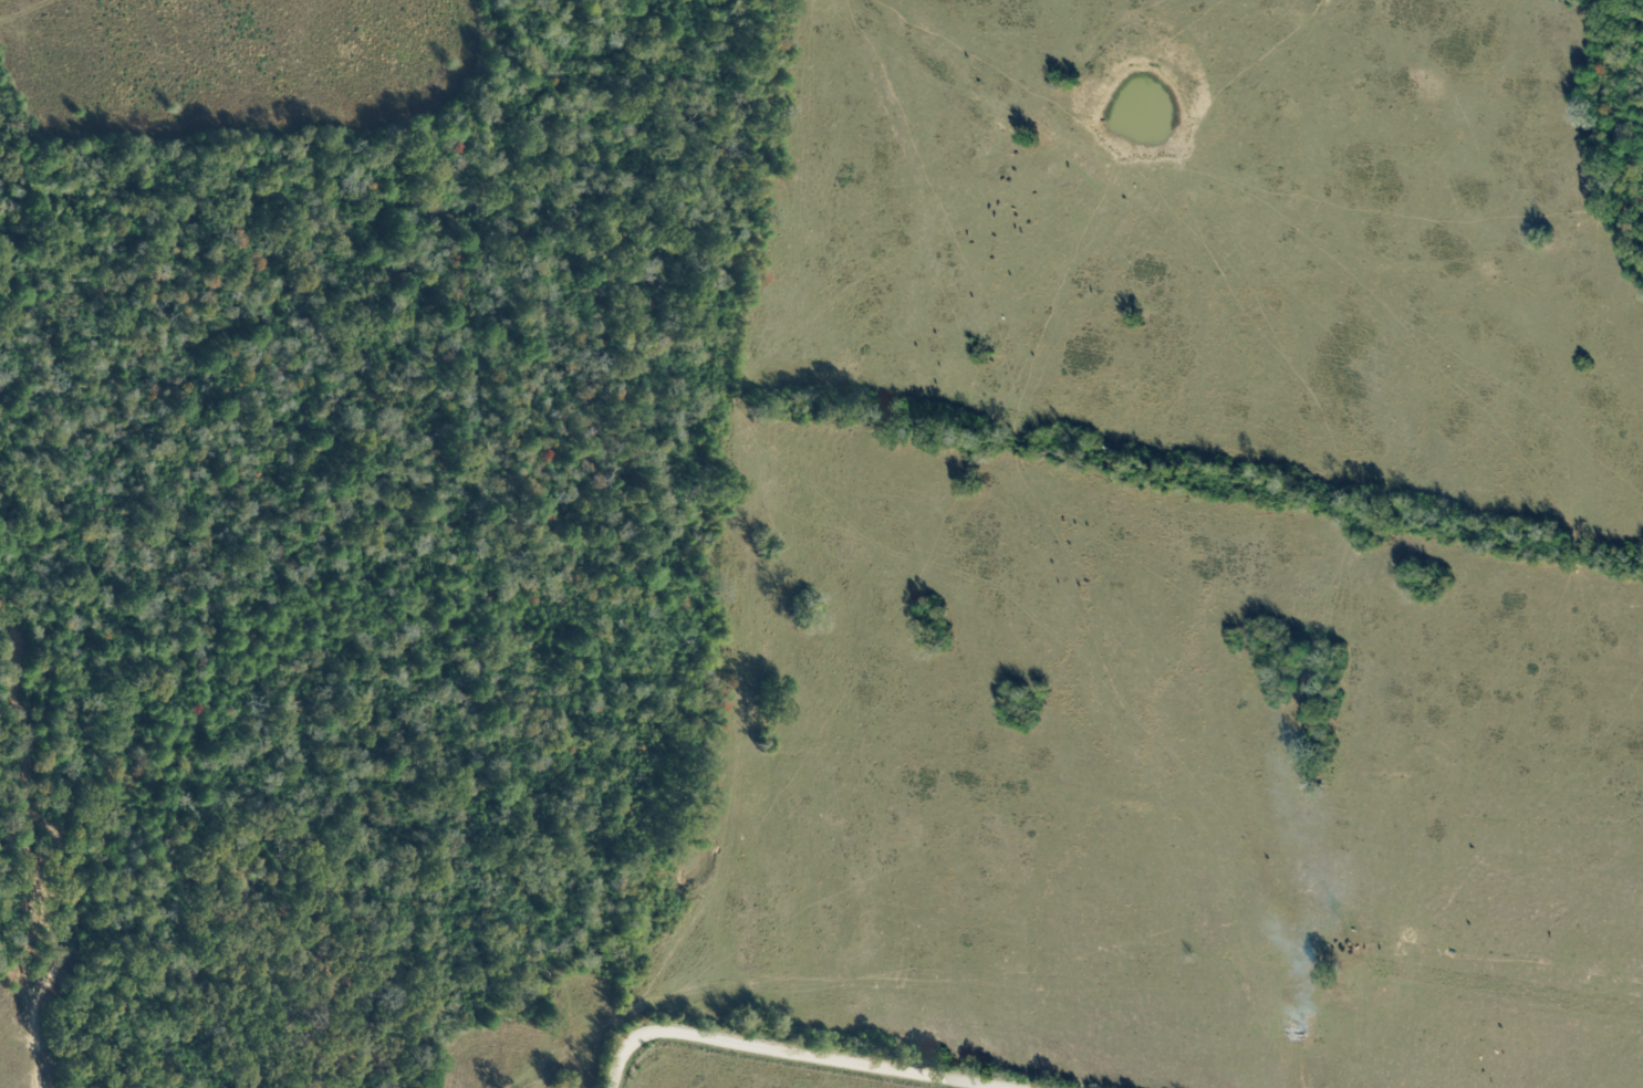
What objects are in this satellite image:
road: (783, 1053)

